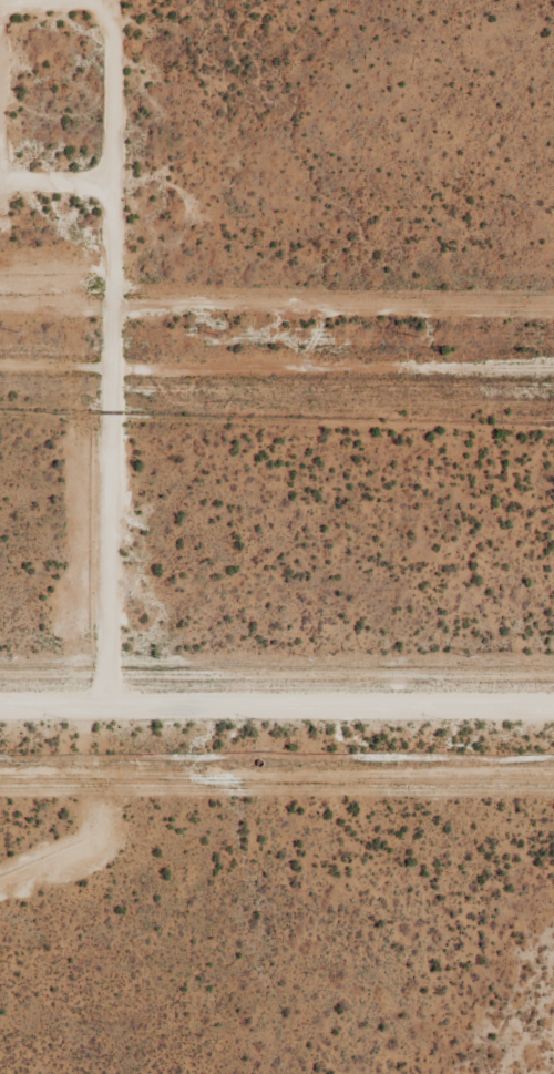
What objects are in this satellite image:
road: (99, 90)
road: (50, 177)
road: (101, 437)
road: (276, 695)

